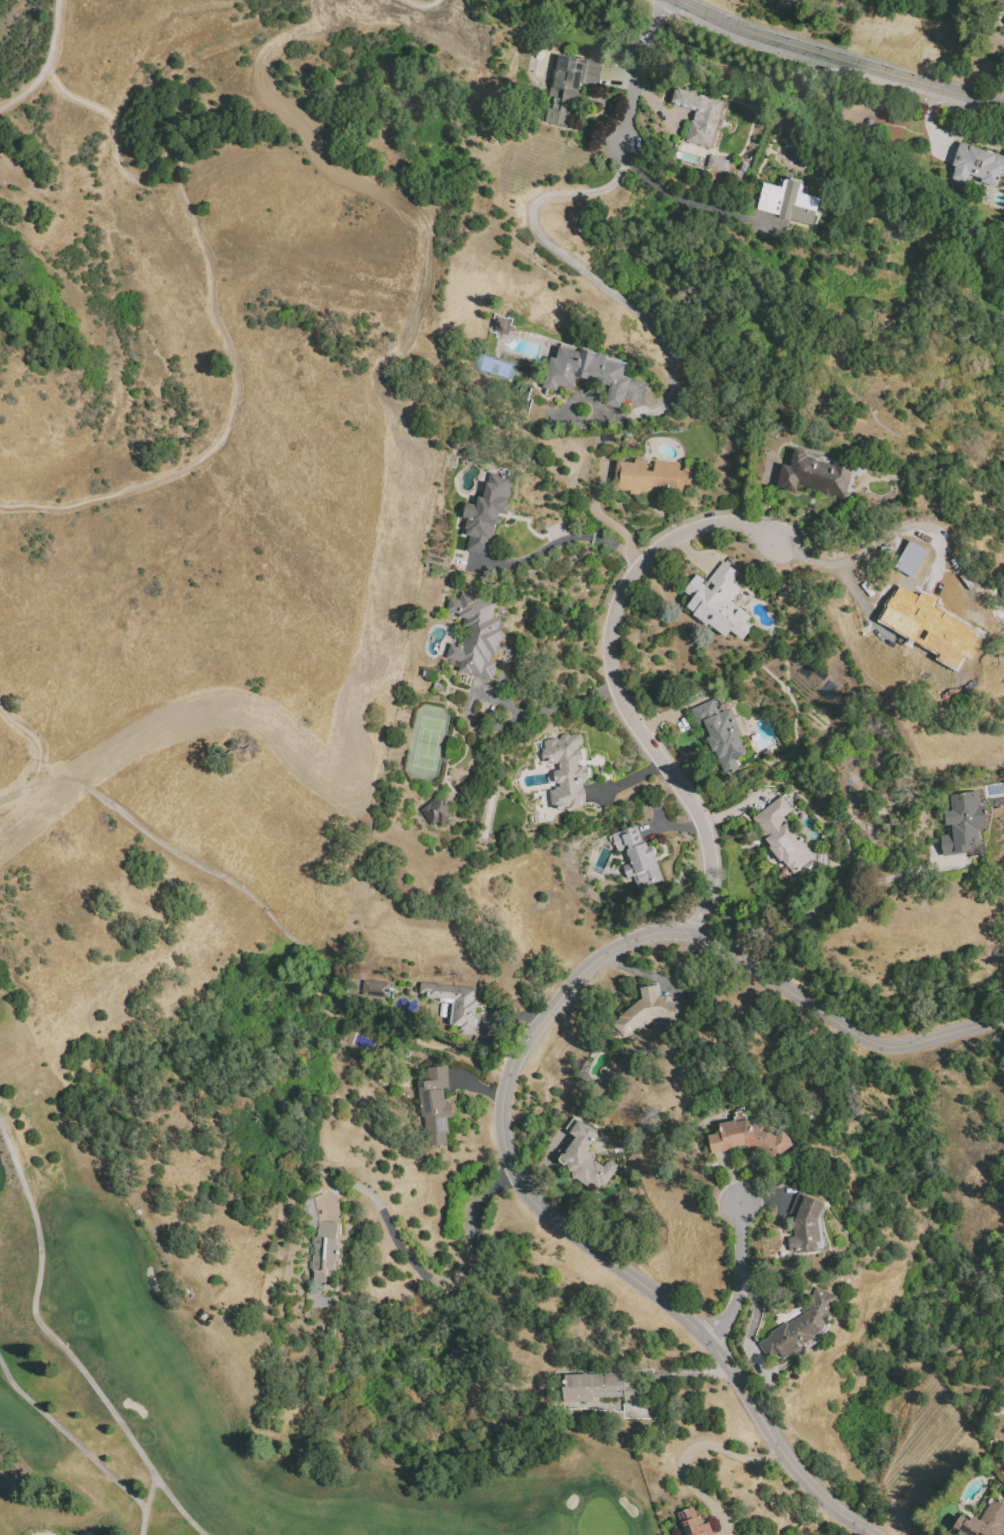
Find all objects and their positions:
road: (421, 5)
building: (1003, 20)
building: (1003, 26)
road: (839, 58)
road: (827, 63)
road: (48, 66)
road: (634, 82)
building: (570, 91)
building: (710, 120)
road: (928, 125)
building: (716, 163)
building: (977, 164)
road: (679, 199)
building: (790, 204)
road: (588, 275)
road: (210, 284)
building: (499, 323)
building: (589, 377)
building: (815, 474)
building: (653, 480)
building: (488, 515)
road: (574, 538)
road: (883, 539)
building: (911, 557)
building: (720, 605)
building: (932, 625)
building: (477, 638)
road: (614, 683)
building: (832, 693)
road: (503, 722)
building: (723, 736)
road: (35, 738)
park: (426, 742)
building: (566, 770)
building: (435, 812)
building: (961, 820)
building: (782, 834)
road: (179, 849)
building: (642, 859)
road: (808, 913)
road: (645, 975)
road: (317, 987)
building: (374, 988)
building: (459, 1007)
building: (650, 1013)
road: (406, 1036)
road: (504, 1082)
building: (437, 1107)
building: (750, 1140)
building: (589, 1176)
building: (806, 1226)
building: (326, 1255)
road: (740, 1277)
road: (438, 1278)
road: (40, 1318)
building: (802, 1328)
road: (665, 1371)
park: (223, 1389)
building: (600, 1389)
road: (72, 1439)
road: (696, 1446)
road: (162, 1490)
building: (983, 1522)
building: (694, 1524)

